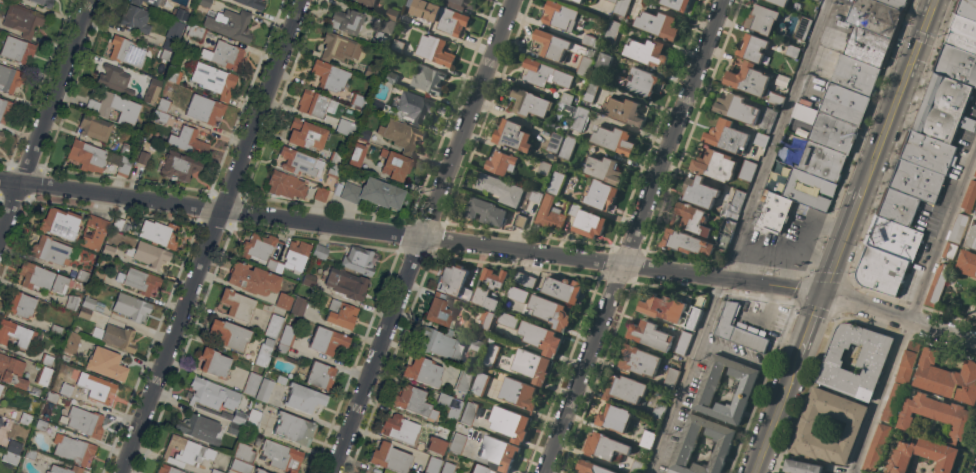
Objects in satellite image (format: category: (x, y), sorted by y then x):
building: (571, 0)
building: (817, 0)
building: (578, 1)
building: (613, 1)
building: (136, 2)
building: (153, 2)
building: (366, 2)
building: (779, 2)
building: (43, 3)
building: (204, 3)
building: (252, 3)
building: (894, 3)
building: (460, 4)
building: (676, 4)
building: (622, 7)
building: (425, 9)
building: (967, 9)
building: (180, 14)
building: (392, 14)
building: (559, 16)
building: (874, 17)
building: (135, 18)
building: (23, 19)
building: (762, 19)
building: (346, 20)
building: (451, 21)
building: (230, 24)
building: (657, 24)
building: (387, 25)
building: (802, 28)
building: (195, 31)
building: (612, 33)
building: (173, 34)
building: (962, 34)
traffic signals: (918, 37)
building: (379, 39)
building: (591, 41)
building: (397, 46)
building: (558, 46)
building: (339, 47)
building: (867, 47)
building: (752, 48)
building: (17, 49)
building: (434, 50)
building: (126, 51)
building: (791, 51)
building: (647, 53)
building: (164, 54)
building: (226, 55)
building: (604, 61)
building: (957, 65)
building: (583, 66)
building: (545, 74)
building: (329, 75)
building: (854, 75)
building: (174, 76)
building: (390, 77)
building: (8, 79)
building: (115, 79)
building: (214, 80)
building: (427, 80)
building: (748, 80)
building: (637, 83)
building: (590, 90)
building: (152, 91)
road: (896, 93)
building: (566, 98)
building: (776, 99)
building: (357, 100)
building: (312, 103)
building: (529, 103)
building: (844, 104)
building: (163, 105)
building: (376, 105)
building: (114, 107)
building: (416, 107)
building: (737, 108)
building: (5, 109)
building: (203, 109)
building: (565, 109)
building: (943, 109)
building: (623, 111)
building: (162, 117)
road: (45, 119)
building: (578, 119)
building: (766, 120)
building: (94, 127)
building: (348, 128)
building: (828, 129)
building: (364, 133)
building: (1, 134)
building: (307, 134)
building: (401, 135)
building: (512, 136)
building: (726, 137)
road: (772, 138)
building: (760, 139)
building: (613, 140)
building: (188, 141)
building: (554, 143)
building: (568, 144)
building: (125, 149)
building: (929, 153)
building: (356, 154)
building: (88, 156)
building: (143, 157)
building: (336, 158)
building: (297, 161)
building: (500, 163)
building: (395, 164)
building: (124, 165)
building: (180, 165)
building: (715, 165)
building: (544, 168)
building: (602, 169)
building: (334, 170)
building: (746, 171)
building: (975, 173)
building: (810, 176)
building: (917, 181)
building: (555, 183)
building: (286, 185)
building: (500, 189)
building: (699, 192)
building: (373, 193)
building: (320, 194)
building: (601, 195)
building: (536, 197)
building: (969, 198)
building: (733, 207)
building: (899, 207)
building: (486, 211)
building: (773, 213)
building: (975, 214)
building: (548, 215)
building: (692, 219)
building: (519, 222)
building: (586, 222)
building: (60, 223)
building: (117, 223)
building: (958, 228)
building: (93, 233)
building: (160, 233)
building: (725, 234)
road: (209, 236)
road: (420, 236)
road: (630, 236)
building: (972, 237)
building: (893, 238)
road: (839, 239)
building: (685, 243)
road: (491, 246)
building: (257, 247)
building: (108, 250)
building: (950, 250)
building: (51, 251)
building: (320, 251)
building: (149, 254)
building: (296, 255)
building: (359, 260)
building: (967, 263)
building: (274, 266)
building: (881, 271)
building: (82, 275)
building: (98, 277)
building: (41, 278)
building: (524, 279)
building: (139, 280)
building: (252, 280)
building: (309, 280)
building: (454, 282)
building: (347, 284)
building: (937, 285)
building: (488, 288)
building: (562, 289)
traffic signals: (819, 293)
building: (516, 294)
building: (282, 300)
building: (71, 301)
building: (236, 304)
building: (21, 305)
building: (298, 306)
building: (86, 307)
building: (131, 307)
building: (670, 310)
road: (912, 310)
building: (440, 312)
building: (550, 312)
building: (341, 314)
building: (485, 320)
building: (507, 320)
building: (274, 326)
building: (55, 331)
building: (738, 331)
road: (804, 331)
building: (15, 333)
building: (229, 333)
building: (287, 335)
building: (650, 335)
building: (118, 337)
building: (541, 338)
building: (327, 340)
building: (70, 342)
building: (682, 344)
building: (442, 345)
building: (476, 346)
building: (281, 349)
building: (264, 352)
building: (489, 355)
building: (64, 358)
building: (46, 360)
building: (638, 361)
building: (213, 362)
building: (871, 363)
building: (106, 364)
building: (907, 364)
building: (531, 366)
building: (11, 371)
building: (422, 371)
building: (43, 375)
building: (320, 375)
road: (682, 375)
building: (946, 378)
building: (670, 379)
building: (463, 380)
building: (481, 380)
building: (251, 383)
building: (94, 385)
building: (708, 386)
building: (1, 387)
building: (66, 389)
building: (625, 389)
building: (265, 390)
building: (518, 393)
building: (211, 394)
building: (52, 396)
building: (303, 398)
building: (413, 401)
building: (893, 403)
building: (449, 408)
building: (659, 410)
building: (469, 413)
building: (227, 414)
building: (937, 415)
building: (25, 418)
building: (615, 418)
building: (0, 419)
building: (253, 419)
building: (82, 421)
road: (770, 421)
building: (0, 423)
building: (509, 423)
building: (41, 425)
building: (199, 428)
building: (233, 428)
building: (293, 428)
building: (400, 428)
building: (805, 428)
building: (647, 439)
building: (457, 443)
building: (435, 444)
building: (14, 446)
building: (686, 446)
building: (604, 447)
building: (876, 448)
building: (73, 449)
building: (186, 452)
building: (498, 452)
building: (30, 453)
building: (244, 453)
building: (922, 455)
building: (281, 456)
building: (10, 457)
building: (389, 457)
building: (432, 464)
building: (240, 466)
building: (637, 466)
building: (448, 467)
building: (590, 467)
building: (801, 467)
building: (64, 469)
building: (168, 469)
building: (481, 469)
building: (259, 470)
building: (215, 471)
building: (386, 472)
building: (776, 472)

